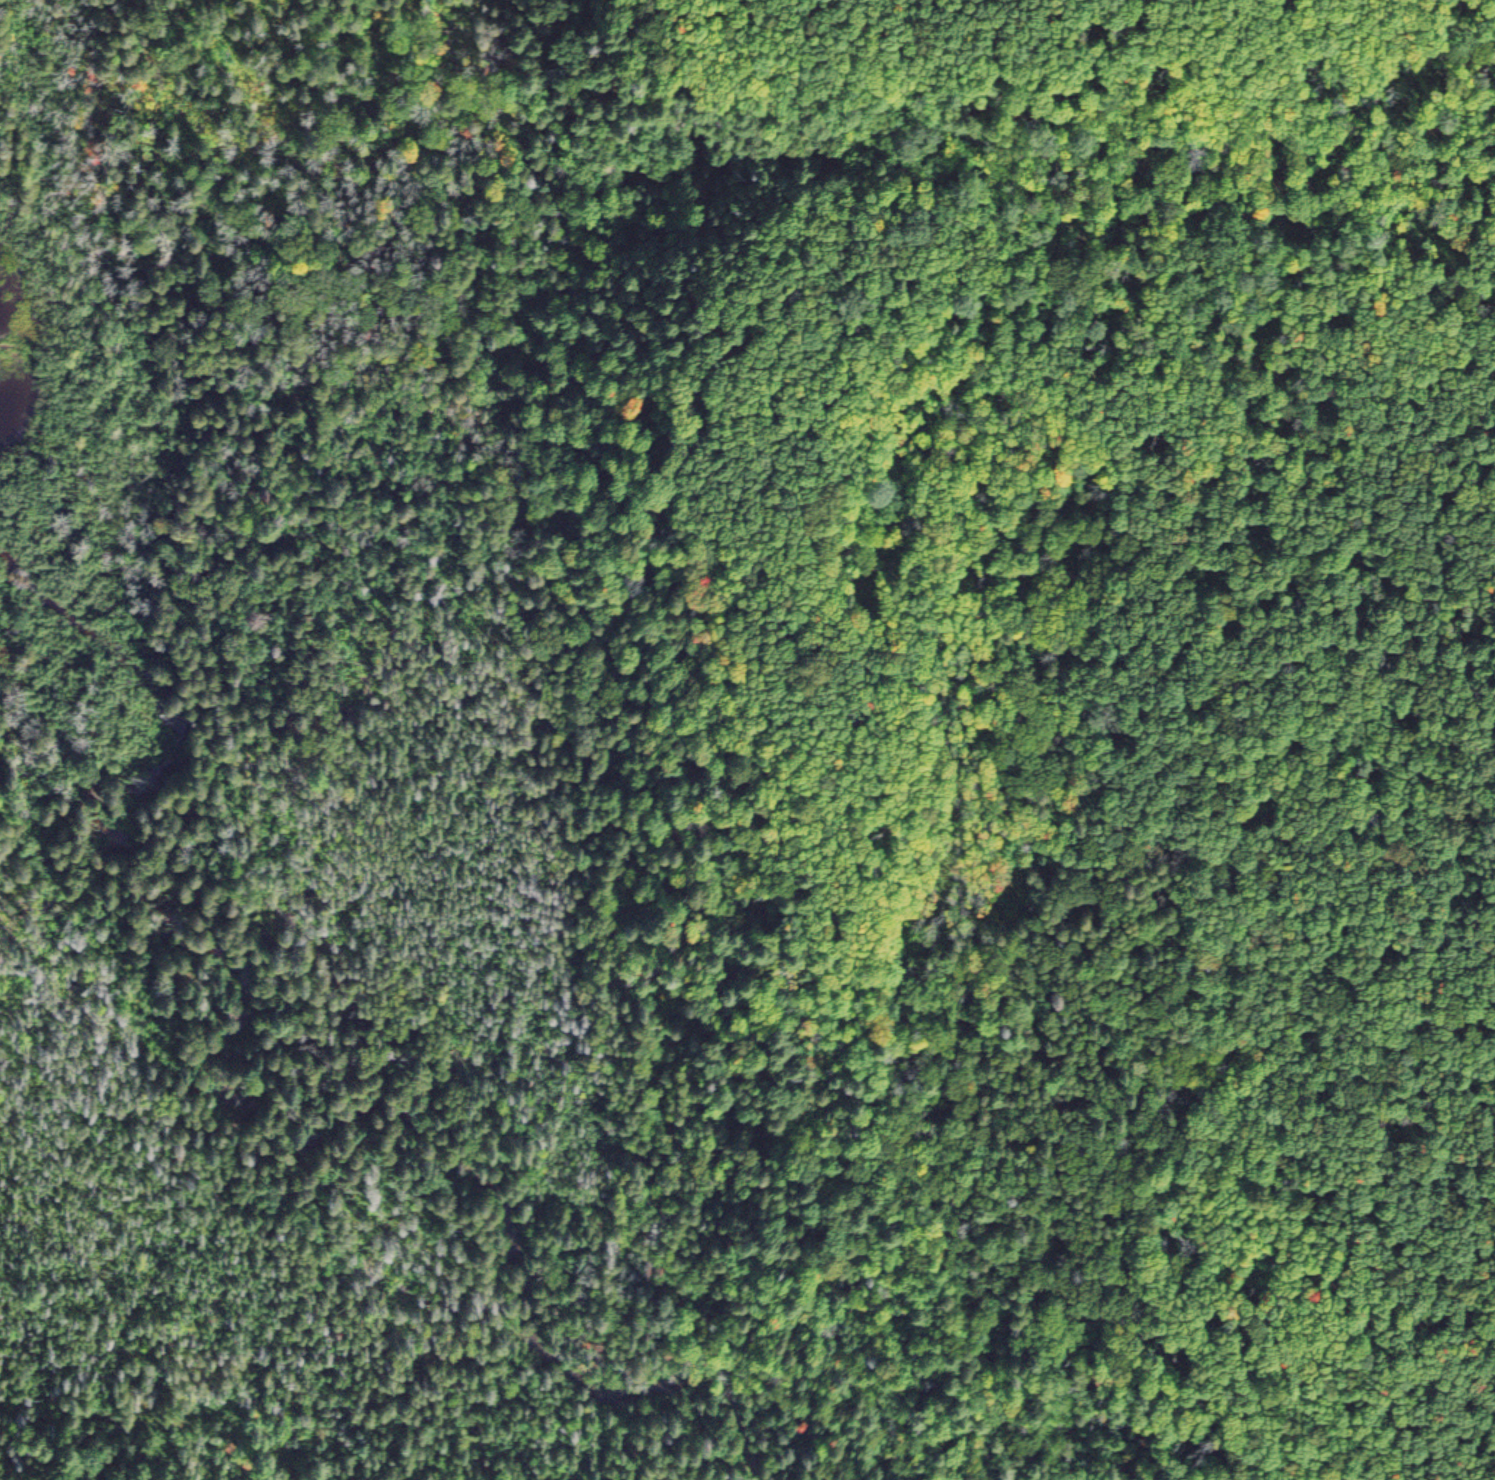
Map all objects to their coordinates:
river: (245, 1076)

